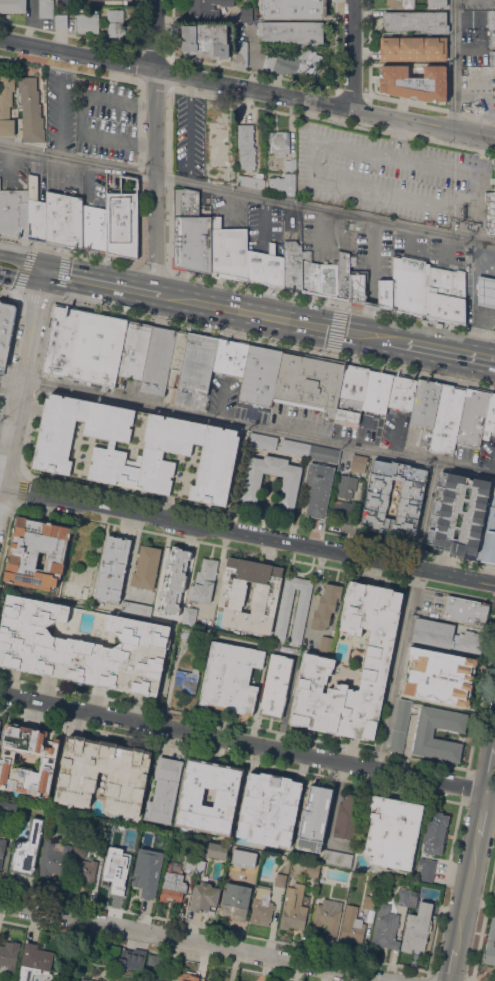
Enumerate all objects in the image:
building: (108, 0)
building: (400, 3)
building: (436, 3)
building: (12, 6)
building: (45, 8)
building: (206, 8)
building: (294, 8)
building: (102, 11)
building: (246, 14)
building: (491, 19)
building: (60, 20)
building: (87, 20)
building: (415, 20)
building: (115, 24)
building: (291, 32)
building: (492, 38)
building: (206, 40)
building: (413, 49)
building: (242, 52)
road: (351, 54)
building: (492, 57)
building: (294, 63)
road: (453, 64)
building: (413, 82)
road: (154, 85)
road: (247, 87)
road: (350, 95)
road: (140, 101)
road: (241, 101)
building: (6, 106)
road: (429, 106)
building: (479, 106)
building: (30, 110)
parking lot: (60, 110)
road: (82, 115)
road: (58, 117)
parking lot: (106, 120)
parking lot: (188, 135)
building: (279, 142)
road: (154, 146)
building: (246, 146)
building: (290, 164)
parking lot: (13, 171)
building: (258, 175)
parking lot: (392, 175)
parking lot: (38, 176)
parking lot: (64, 179)
building: (251, 181)
parking lot: (113, 183)
building: (286, 184)
parking lot: (93, 188)
road: (373, 192)
road: (247, 194)
building: (185, 202)
parking lot: (204, 204)
building: (14, 211)
building: (35, 211)
parking lot: (228, 212)
building: (490, 212)
building: (55, 218)
building: (72, 221)
building: (121, 224)
parking lot: (291, 225)
parking lot: (264, 227)
building: (93, 228)
parking lot: (323, 237)
building: (183, 241)
building: (201, 243)
parking lot: (410, 246)
building: (216, 251)
road: (69, 252)
building: (229, 252)
building: (241, 253)
parking lot: (446, 254)
parking lot: (372, 256)
building: (270, 263)
building: (250, 264)
building: (291, 265)
road: (153, 267)
building: (260, 267)
road: (21, 268)
building: (279, 271)
traffic signals: (43, 273)
building: (309, 274)
building: (343, 275)
building: (323, 280)
building: (332, 280)
road: (96, 282)
road: (371, 282)
building: (410, 285)
building: (357, 286)
road: (9, 291)
building: (486, 291)
gas station: (486, 291)
building: (384, 293)
building: (446, 294)
road: (35, 296)
building: (0, 303)
road: (330, 303)
road: (267, 316)
building: (4, 328)
road: (336, 329)
traffic signals: (336, 330)
building: (60, 341)
road: (274, 342)
road: (395, 342)
building: (96, 348)
building: (134, 348)
road: (9, 349)
road: (450, 353)
building: (230, 355)
building: (177, 358)
building: (158, 360)
building: (197, 361)
building: (259, 374)
road: (10, 379)
building: (308, 382)
road: (21, 384)
building: (377, 390)
road: (9, 392)
building: (351, 392)
building: (401, 392)
building: (425, 402)
building: (447, 416)
building: (472, 416)
building: (489, 418)
road: (258, 426)
building: (262, 440)
building: (295, 447)
building: (136, 448)
parking lot: (486, 450)
building: (324, 453)
parking lot: (465, 455)
building: (358, 463)
road: (17, 484)
building: (252, 485)
building: (346, 486)
building: (319, 488)
building: (376, 499)
road: (170, 504)
building: (342, 511)
road: (425, 515)
building: (464, 516)
road: (247, 533)
building: (36, 553)
building: (146, 567)
building: (112, 569)
building: (173, 580)
building: (204, 581)
building: (264, 595)
building: (326, 605)
building: (136, 609)
building: (466, 610)
building: (283, 613)
building: (188, 616)
building: (185, 632)
building: (446, 636)
building: (326, 644)
building: (82, 647)
building: (289, 650)
building: (317, 663)
road: (394, 669)
building: (439, 676)
building: (231, 677)
building: (187, 679)
building: (276, 686)
building: (0, 723)
building: (400, 725)
building: (423, 735)
road: (247, 742)
building: (48, 762)
building: (126, 782)
building: (163, 791)
building: (226, 796)
building: (7, 807)
building: (269, 808)
building: (348, 816)
building: (314, 817)
building: (392, 831)
building: (434, 832)
building: (1, 847)
building: (27, 848)
building: (213, 849)
building: (79, 850)
building: (128, 851)
building: (159, 853)
building: (54, 858)
building: (243, 858)
building: (338, 858)
building: (190, 862)
road: (472, 867)
building: (313, 869)
building: (425, 870)
building: (84, 873)
building: (142, 877)
building: (280, 880)
building: (112, 881)
building: (172, 887)
building: (402, 896)
building: (203, 897)
building: (236, 900)
building: (370, 902)
building: (261, 906)
building: (293, 908)
building: (328, 916)
building: (352, 925)
building: (385, 927)
building: (418, 929)
road: (195, 943)
building: (490, 945)
building: (8, 956)
building: (132, 959)
building: (154, 960)
building: (34, 961)
building: (494, 968)
building: (186, 977)
building: (151, 979)
building: (210, 979)
building: (86, 980)
building: (237, 980)
building: (239, 980)

